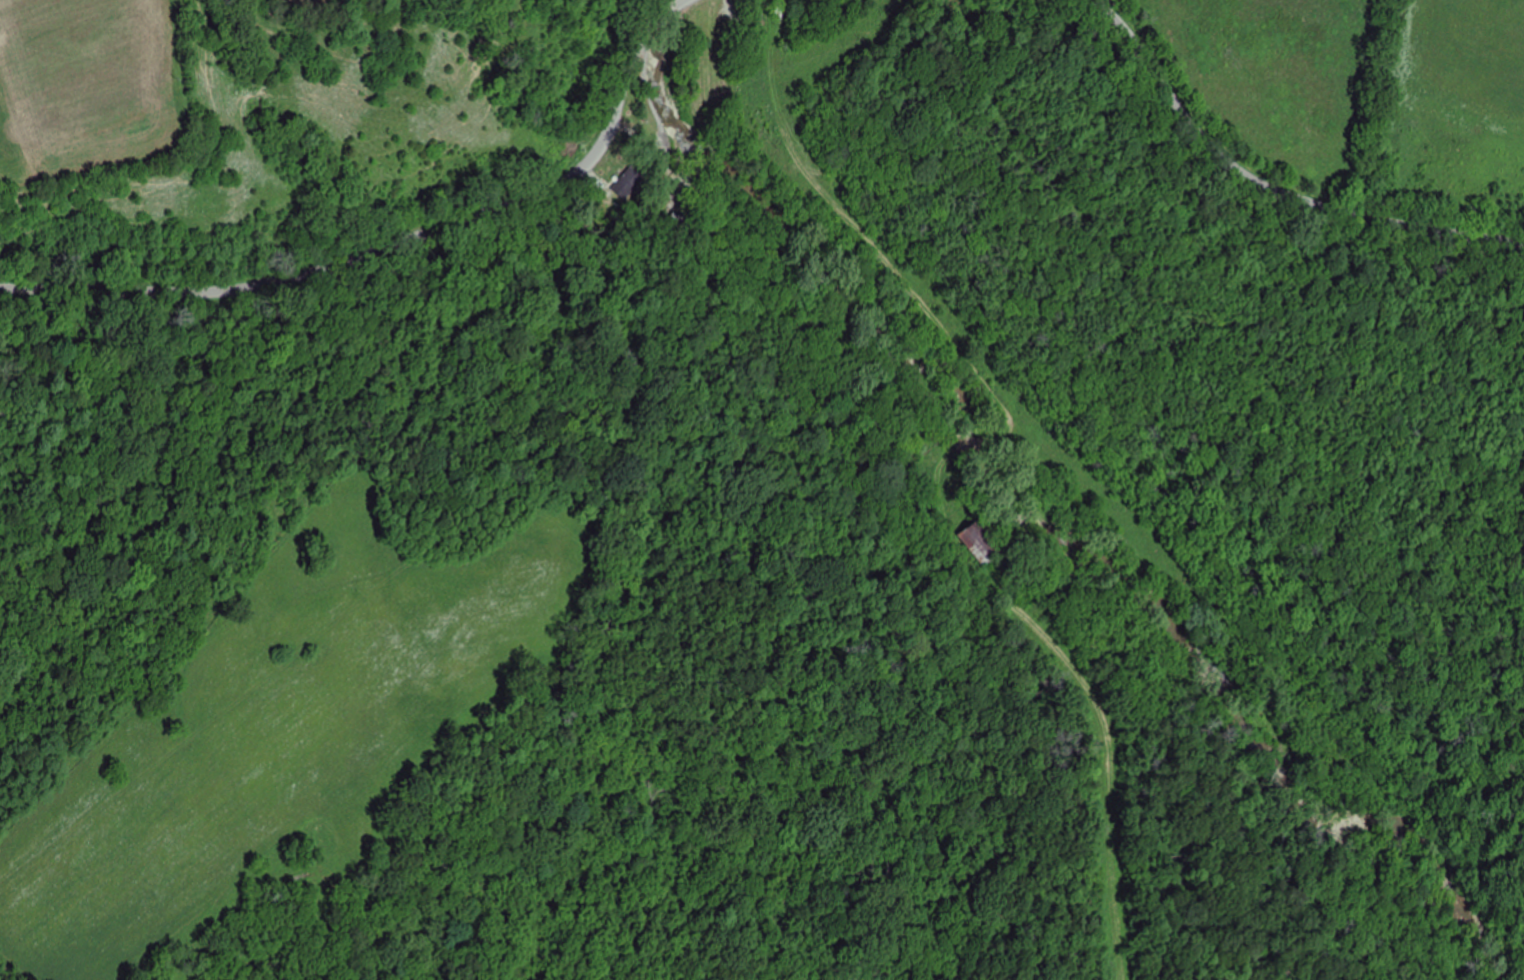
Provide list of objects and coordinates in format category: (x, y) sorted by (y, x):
building: (668, 116)
road: (1271, 188)
road: (395, 243)
building: (975, 545)

